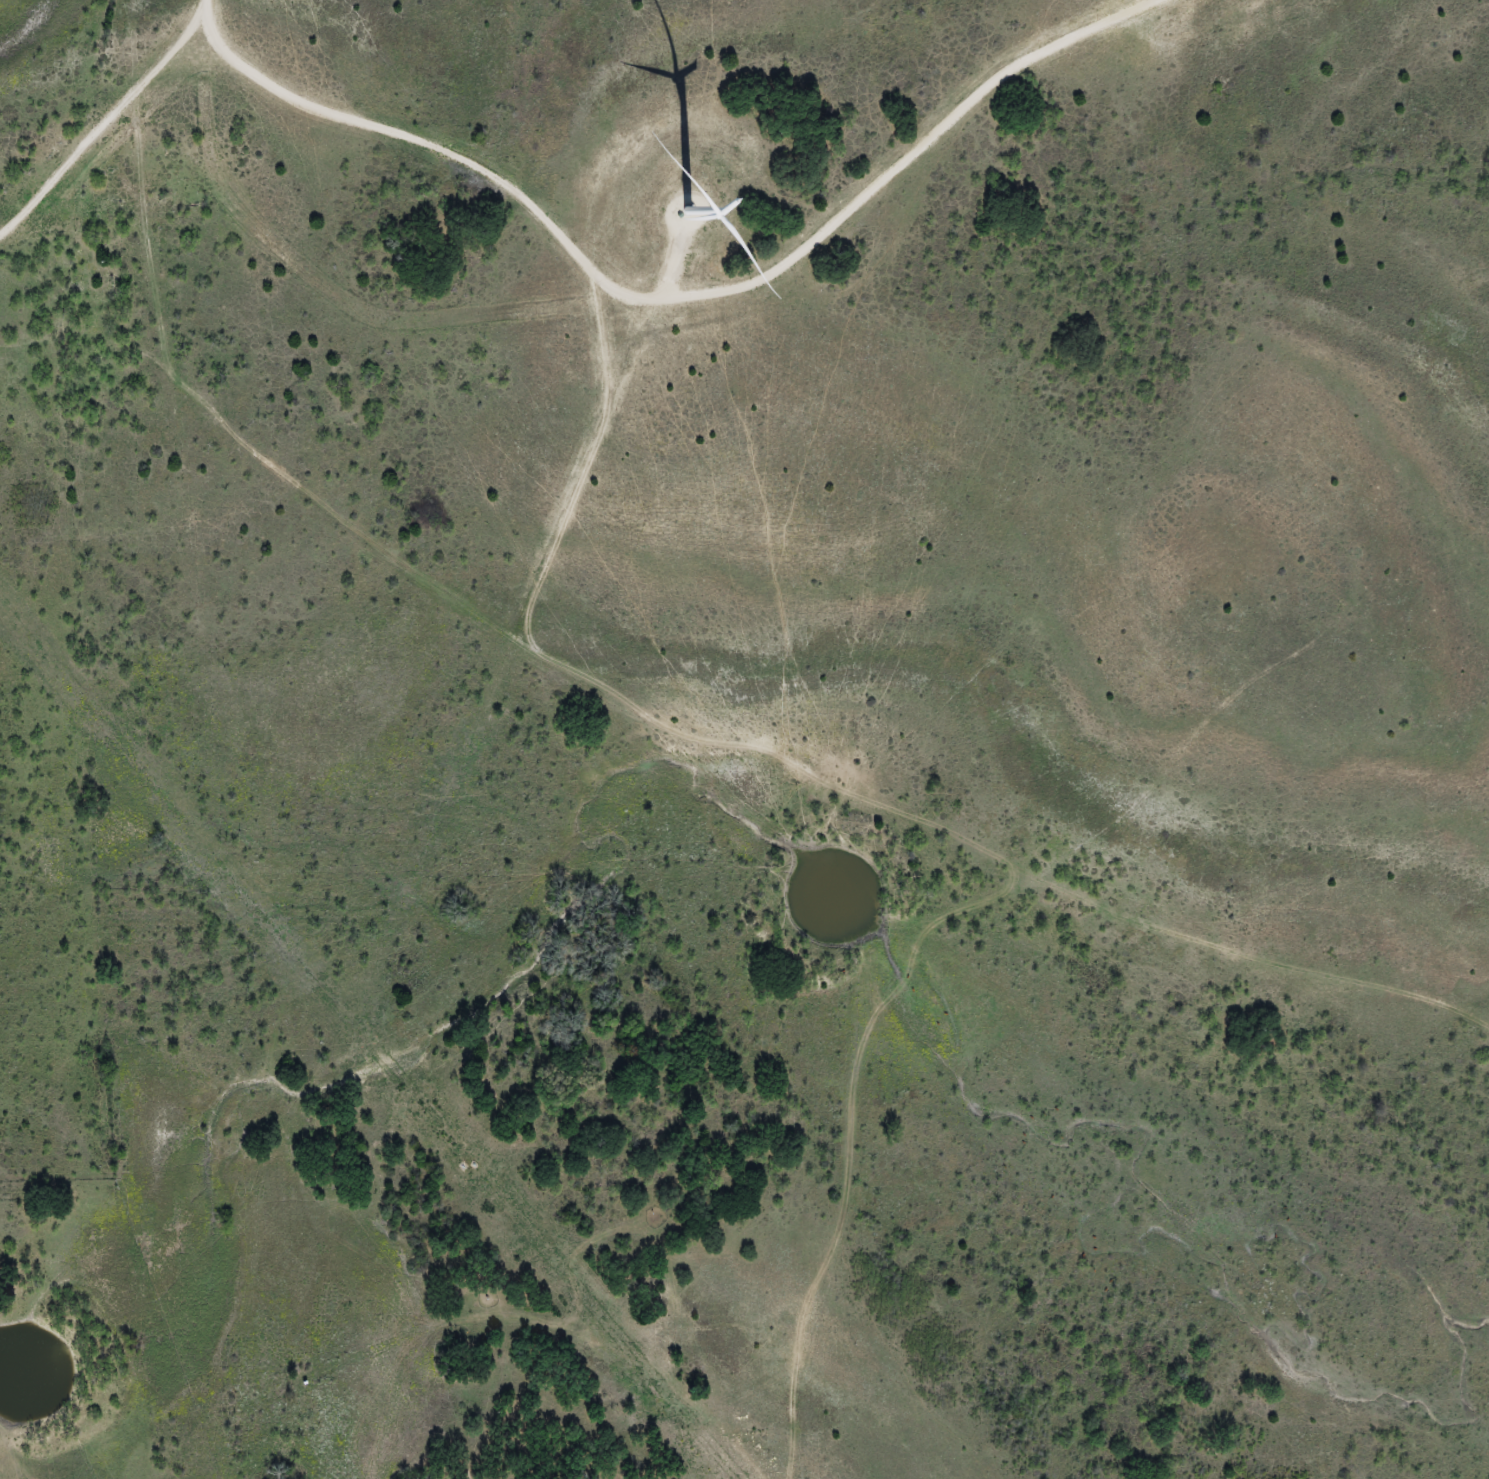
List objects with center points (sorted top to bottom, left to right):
road: (208, 5)
road: (104, 120)
wind turbine: (690, 210)
road: (672, 295)

